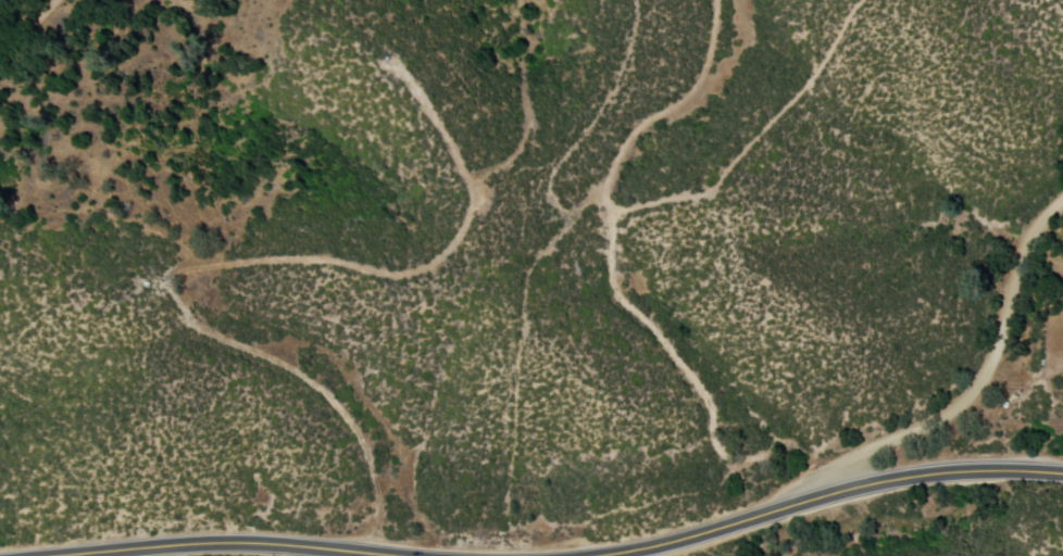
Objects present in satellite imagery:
road: (28, 25)
road: (978, 387)
road: (824, 494)
road: (230, 540)

